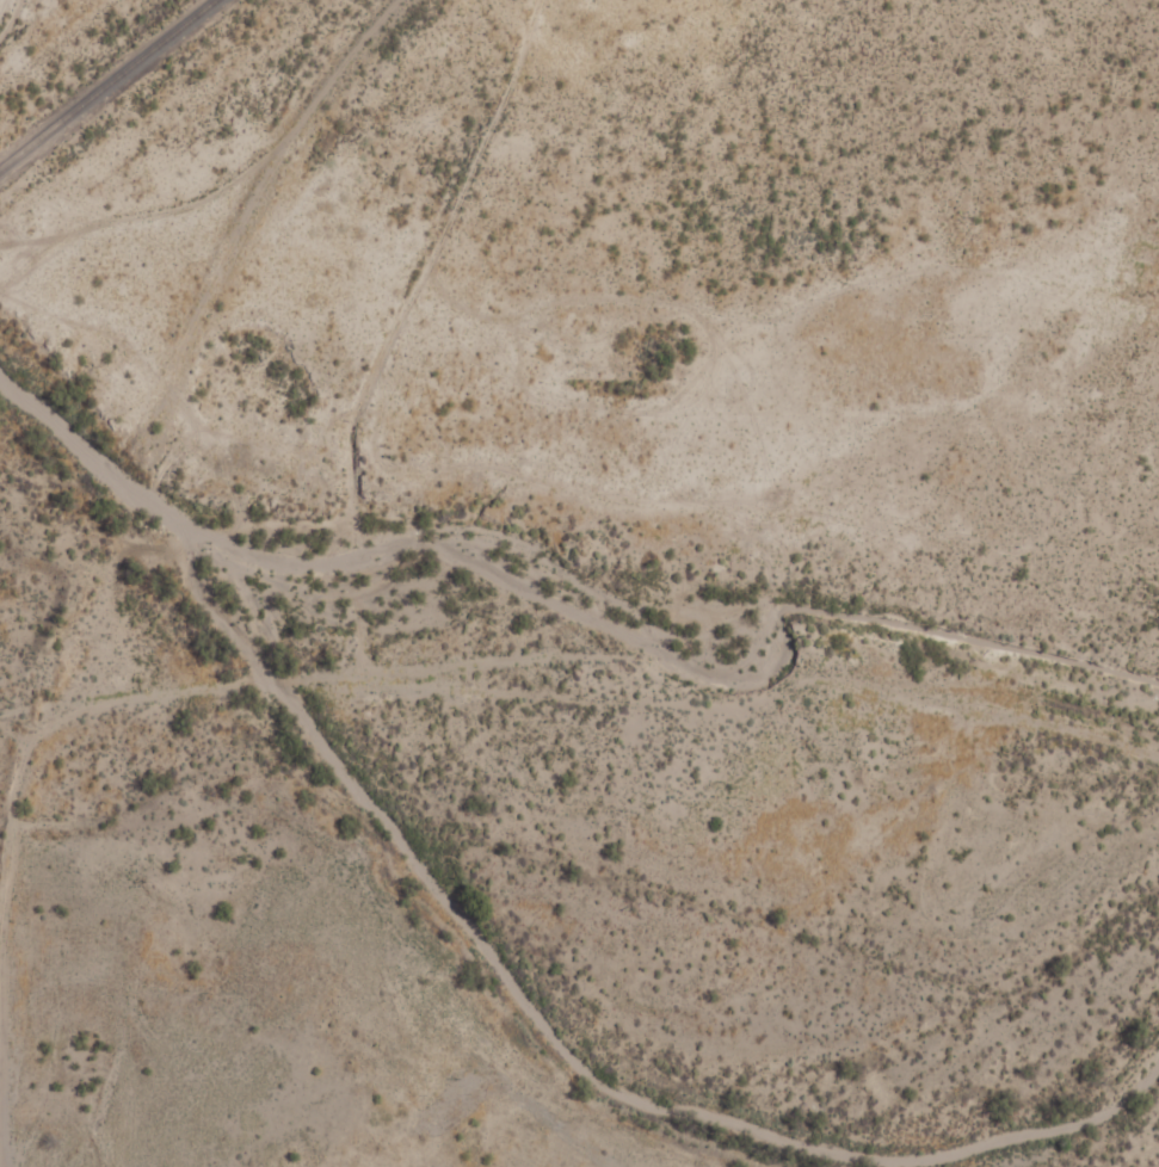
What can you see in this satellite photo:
railway: (107, 84)
road: (138, 420)
road: (27, 667)
river: (486, 952)

